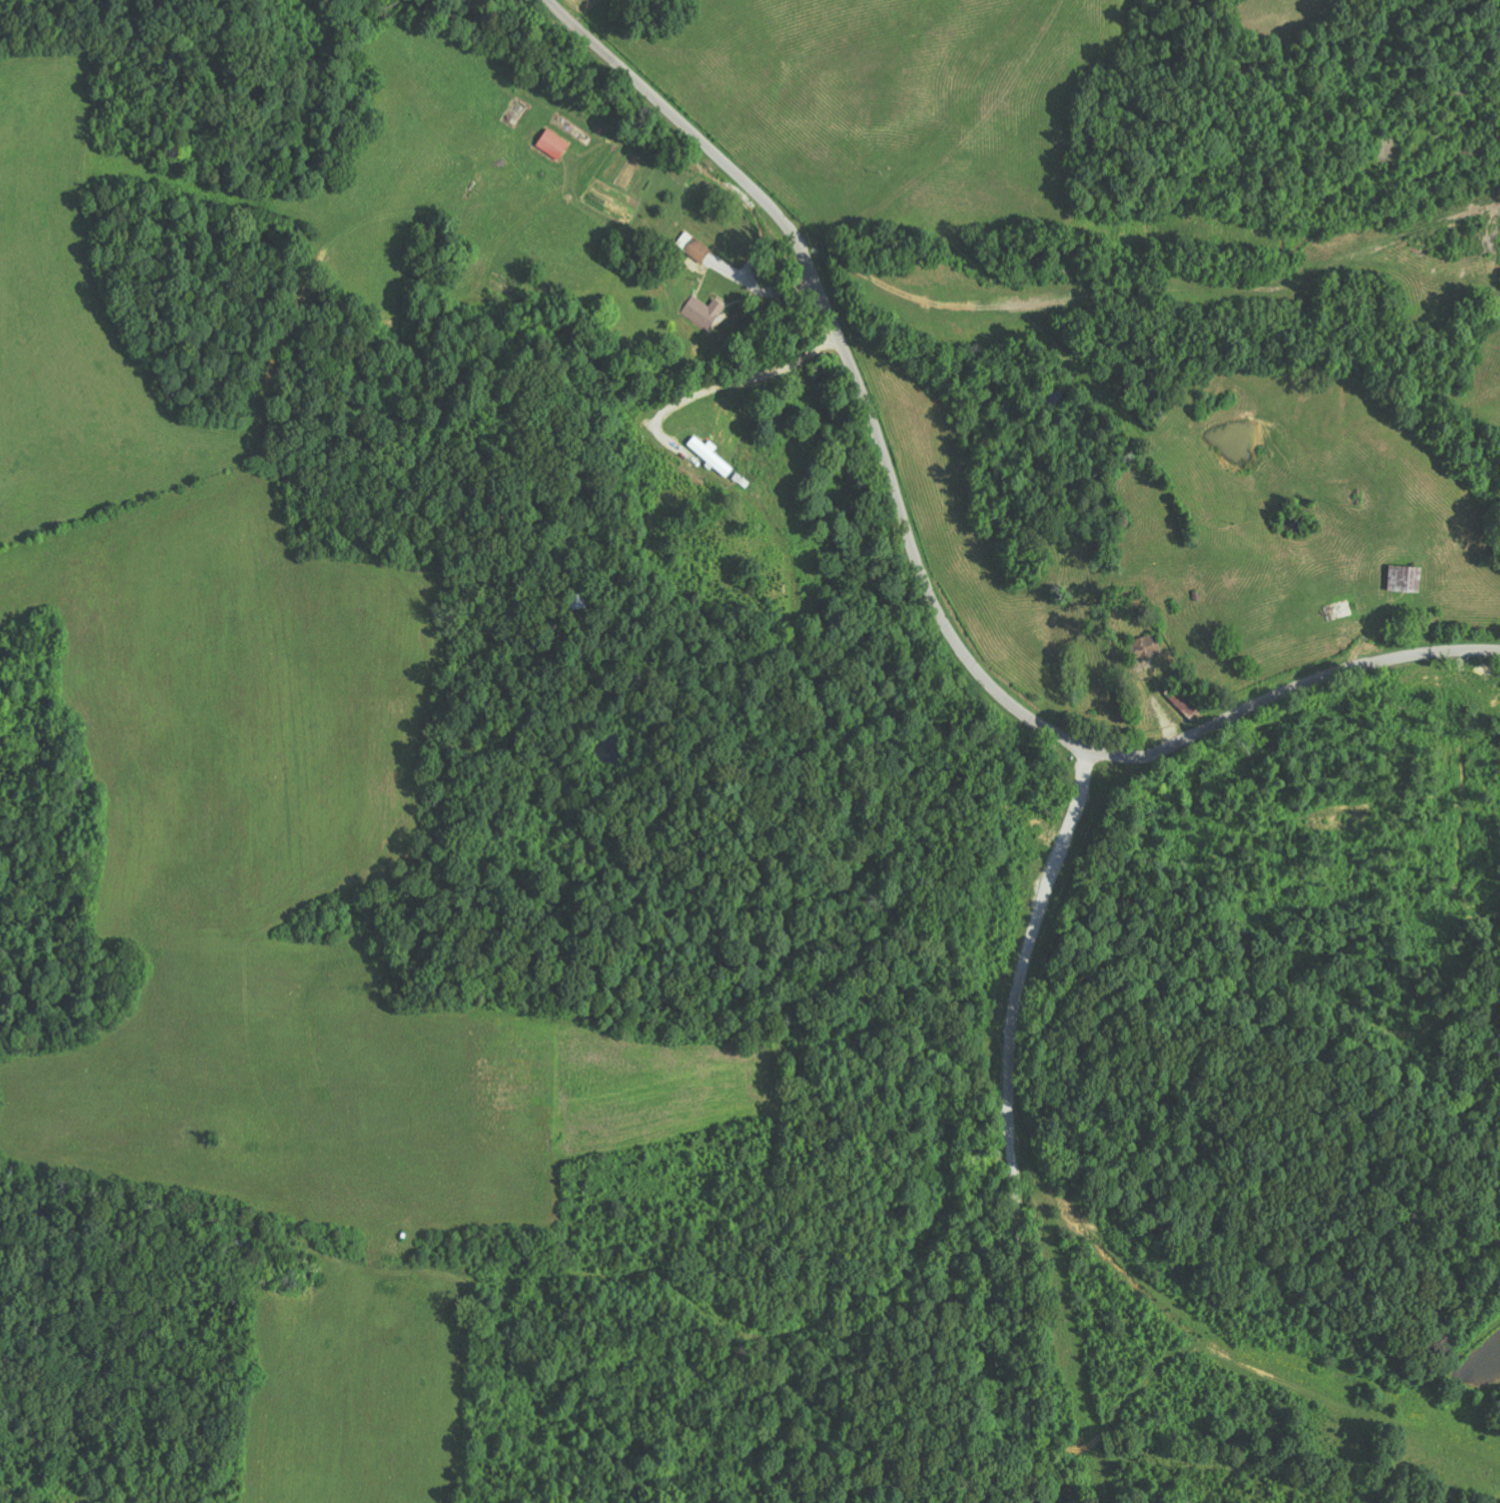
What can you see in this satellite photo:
building: (554, 145)
building: (694, 247)
building: (704, 312)
building: (712, 456)
road: (919, 564)
building: (1407, 578)
building: (1150, 646)
road: (1010, 1119)

